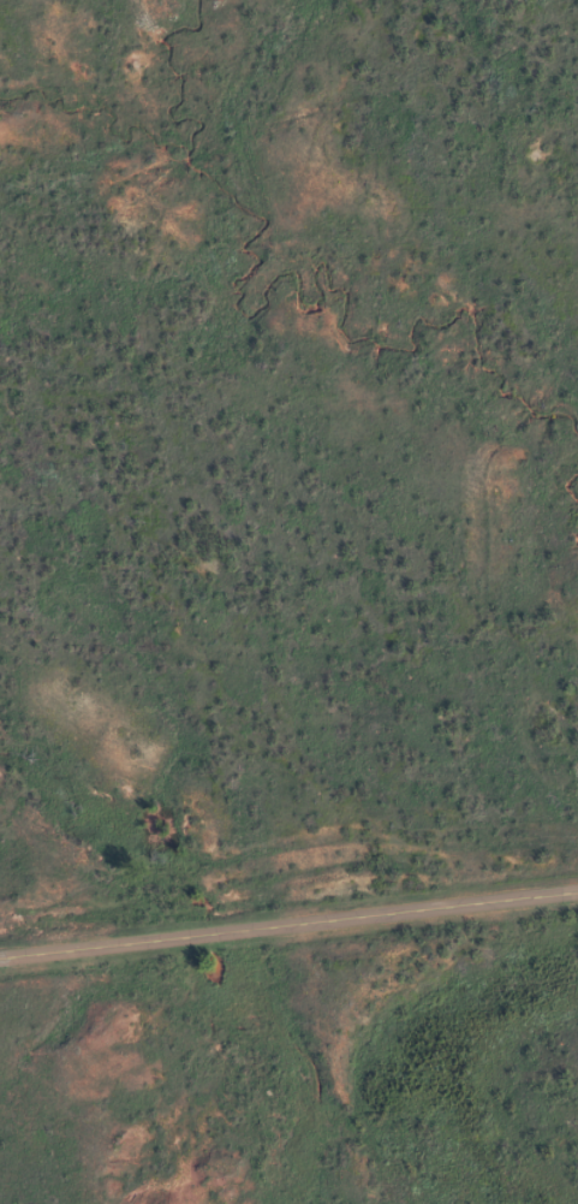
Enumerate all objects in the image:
road: (288, 925)

